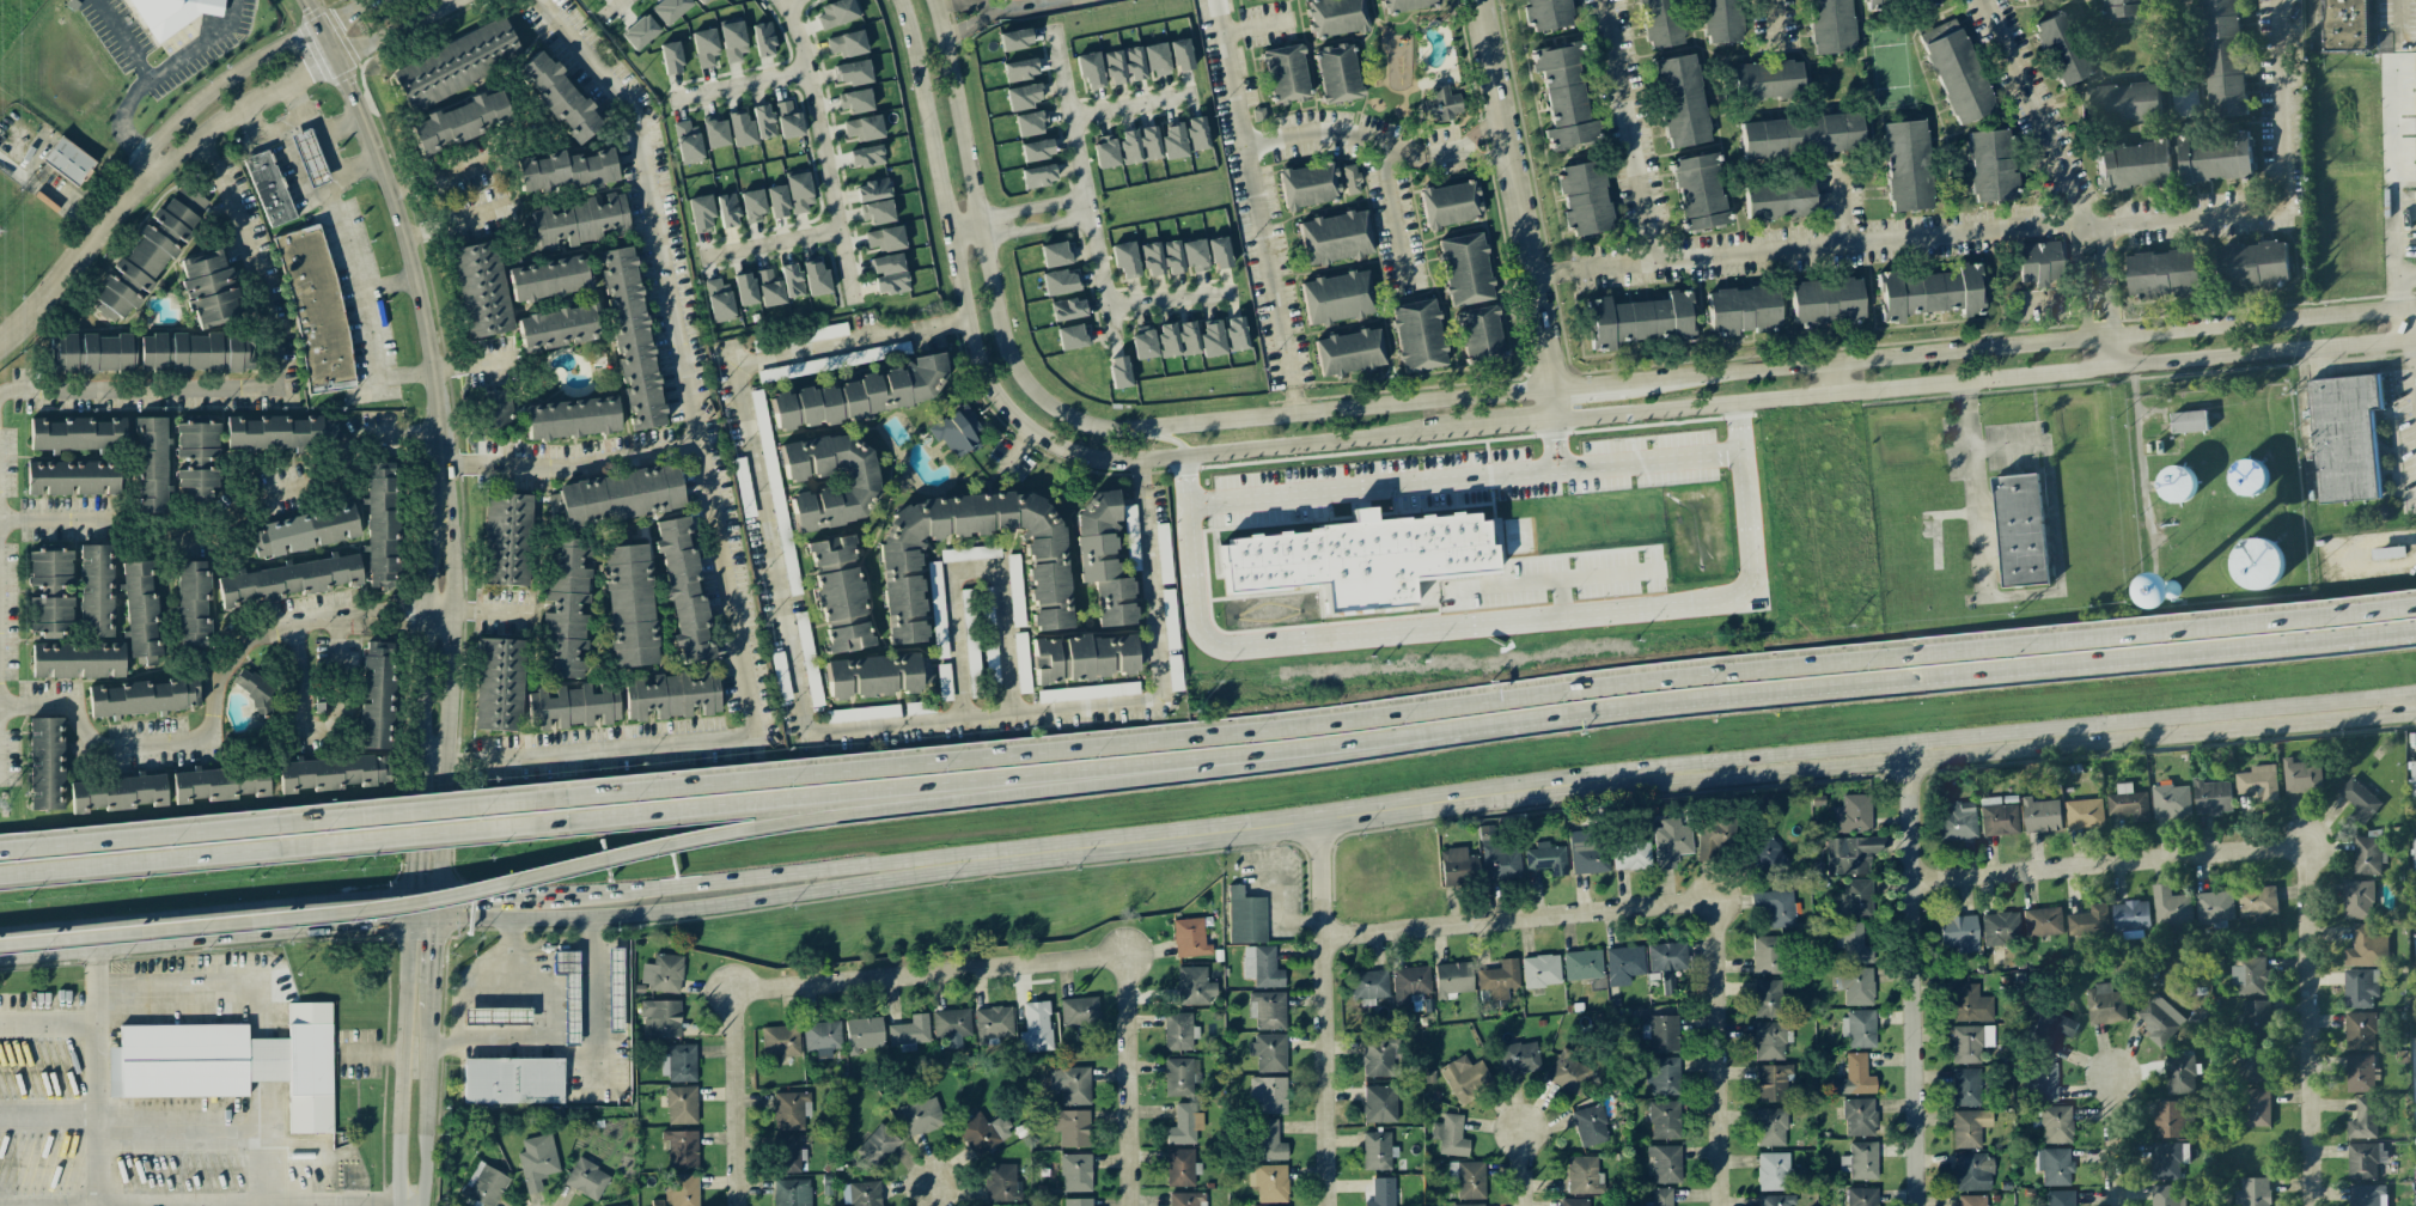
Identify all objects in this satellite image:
road: (972, 0)
building: (701, 1)
building: (1892, 1)
road: (789, 2)
road: (1027, 2)
building: (1405, 5)
road: (610, 7)
building: (2124, 8)
building: (670, 10)
road: (313, 12)
building: (837, 12)
road: (349, 13)
road: (1775, 13)
building: (171, 14)
building: (1546, 14)
building: (1335, 17)
building: (1721, 20)
road: (977, 23)
building: (1660, 23)
building: (2343, 25)
road: (2399, 25)
building: (1830, 26)
road: (396, 29)
road: (1255, 29)
building: (640, 32)
building: (762, 38)
road: (122, 39)
building: (733, 39)
building: (1014, 39)
road: (330, 42)
building: (847, 43)
building: (704, 47)
building: (2061, 49)
building: (1180, 55)
building: (670, 57)
building: (2223, 57)
building: (1157, 60)
building: (456, 63)
building: (1134, 63)
building: (1114, 67)
building: (1019, 69)
building: (1090, 69)
building: (1956, 71)
building: (853, 72)
building: (1336, 73)
road: (157, 74)
building: (1286, 74)
road: (303, 77)
building: (1767, 80)
road: (226, 83)
road: (736, 85)
building: (1023, 96)
building: (559, 97)
building: (1564, 97)
building: (855, 100)
building: (1680, 100)
building: (2119, 102)
building: (1441, 103)
road: (1131, 106)
road: (260, 120)
building: (788, 120)
building: (763, 121)
building: (459, 122)
building: (1031, 122)
road: (287, 124)
road: (2040, 126)
road: (346, 128)
building: (740, 128)
building: (864, 128)
road: (1637, 132)
building: (715, 133)
building: (1196, 133)
road: (1335, 135)
building: (1801, 135)
road: (197, 138)
building: (687, 141)
building: (1173, 141)
building: (1149, 142)
road: (206, 146)
building: (1129, 146)
road: (822, 147)
road: (1466, 147)
building: (1036, 150)
building: (1106, 152)
building: (866, 156)
building: (309, 157)
building: (2214, 157)
building: (68, 160)
road: (361, 160)
building: (2133, 164)
building: (1906, 165)
road: (153, 166)
building: (1990, 166)
building: (565, 170)
road: (298, 173)
road: (141, 175)
building: (1038, 176)
road: (440, 178)
building: (1350, 179)
road: (1081, 182)
building: (1307, 185)
building: (268, 188)
building: (872, 190)
building: (1698, 191)
building: (799, 193)
road: (1253, 194)
building: (1585, 197)
building: (1779, 199)
building: (777, 201)
building: (1450, 203)
building: (752, 206)
road: (1521, 207)
road: (1845, 208)
building: (727, 209)
building: (701, 212)
building: (877, 212)
road: (456, 218)
road: (1395, 218)
road: (336, 220)
building: (579, 220)
road: (2030, 230)
road: (950, 232)
building: (1335, 237)
building: (885, 238)
road: (770, 244)
building: (1219, 252)
road: (2403, 252)
building: (150, 254)
building: (1055, 254)
building: (1195, 255)
building: (1172, 257)
building: (1125, 258)
building: (1152, 258)
building: (2039, 262)
building: (2252, 264)
building: (1465, 269)
road: (72, 270)
building: (2162, 273)
building: (889, 274)
road: (1552, 276)
building: (815, 278)
building: (791, 280)
building: (1060, 282)
road: (393, 285)
road: (421, 287)
building: (208, 288)
building: (744, 288)
building: (769, 288)
building: (481, 290)
building: (1930, 292)
road: (2097, 296)
building: (1337, 297)
road: (1170, 299)
building: (719, 300)
building: (1825, 301)
building: (590, 304)
building: (315, 306)
building: (1068, 309)
building: (1743, 310)
building: (1639, 321)
building: (823, 333)
building: (1234, 333)
building: (1480, 333)
building: (1417, 335)
building: (1072, 336)
building: (630, 337)
building: (1178, 339)
building: (1212, 339)
road: (2409, 340)
building: (1143, 342)
building: (195, 352)
building: (1349, 352)
building: (91, 353)
road: (447, 370)
building: (1118, 372)
road: (1834, 378)
road: (1990, 378)
road: (255, 389)
road: (1517, 390)
road: (2414, 391)
building: (861, 394)
road: (1297, 400)
building: (495, 406)
building: (572, 419)
road: (1508, 420)
building: (2189, 421)
road: (1018, 422)
building: (956, 431)
building: (280, 432)
building: (77, 433)
road: (1236, 434)
building: (2345, 437)
road: (1552, 441)
road: (952, 443)
road: (2141, 451)
building: (196, 458)
road: (603, 462)
building: (152, 464)
road: (476, 467)
building: (73, 477)
road: (1463, 477)
building: (2249, 477)
building: (859, 482)
building: (2176, 483)
building: (743, 487)
road: (1972, 491)
building: (620, 495)
road: (709, 498)
building: (554, 505)
building: (380, 525)
road: (2051, 526)
building: (2020, 530)
road: (184, 532)
building: (304, 532)
building: (1131, 537)
building: (505, 538)
building: (785, 542)
building: (1432, 544)
building: (830, 552)
building: (970, 553)
building: (1163, 553)
building: (2388, 553)
road: (1519, 554)
road: (977, 560)
building: (1102, 560)
building: (2256, 564)
road: (451, 567)
building: (1298, 567)
building: (288, 580)
building: (902, 585)
building: (96, 590)
building: (683, 590)
building: (1014, 590)
building: (50, 591)
building: (840, 596)
road: (417, 602)
building: (193, 603)
road: (494, 604)
building: (563, 605)
building: (628, 605)
building: (936, 609)
building: (141, 615)
building: (1170, 619)
road: (1477, 626)
building: (847, 638)
road: (423, 645)
building: (1086, 657)
building: (78, 659)
building: (807, 659)
building: (780, 675)
building: (876, 675)
building: (944, 682)
road: (451, 683)
building: (498, 684)
building: (252, 686)
building: (1087, 692)
building: (671, 694)
building: (376, 695)
building: (144, 698)
road: (1456, 701)
road: (1732, 703)
building: (573, 706)
building: (861, 713)
road: (809, 718)
road: (209, 730)
road: (319, 730)
road: (1, 747)
railway: (1208, 754)
road: (444, 760)
road: (1695, 770)
building: (332, 773)
building: (2301, 776)
building: (2257, 782)
building: (219, 784)
building: (117, 792)
building: (2414, 793)
road: (938, 794)
building: (2211, 797)
building: (2359, 799)
road: (774, 800)
building: (2171, 800)
building: (2127, 803)
road: (432, 806)
building: (1854, 814)
building: (2084, 814)
building: (2040, 815)
building: (1997, 817)
building: (1958, 821)
road: (184, 829)
road: (440, 829)
road: (417, 830)
road: (435, 834)
building: (1714, 835)
building: (1671, 842)
building: (1631, 852)
building: (1586, 853)
building: (1853, 854)
building: (2366, 855)
building: (1499, 857)
road: (185, 858)
building: (1546, 858)
building: (1768, 859)
road: (2076, 865)
building: (1458, 866)
building: (2414, 869)
road: (757, 878)
road: (487, 896)
road: (423, 897)
traffic signals: (435, 897)
building: (1855, 899)
traffic signals: (413, 900)
building: (2357, 900)
building: (2256, 901)
road: (417, 904)
road: (707, 907)
building: (1776, 907)
building: (2170, 908)
building: (2213, 908)
road: (435, 909)
road: (411, 910)
building: (1245, 916)
building: (2130, 916)
road: (206, 918)
building: (2088, 920)
traffic signals: (435, 921)
road: (1485, 921)
building: (2042, 921)
traffic signals: (411, 922)
road: (396, 924)
building: (2000, 928)
building: (1959, 931)
building: (1190, 938)
building: (2415, 942)
building: (1854, 943)
road: (178, 944)
building: (2366, 948)
road: (507, 950)
building: (1767, 955)
building: (1667, 958)
road: (433, 962)
building: (1582, 964)
building: (1623, 964)
building: (1262, 967)
building: (1540, 970)
building: (663, 973)
road: (1915, 976)
road: (843, 979)
building: (1452, 979)
building: (1499, 979)
road: (500, 982)
building: (1410, 983)
road: (182, 985)
building: (1856, 985)
building: (1194, 986)
building: (1369, 986)
building: (2360, 987)
building: (568, 992)
building: (1768, 998)
road: (2312, 998)
building: (1969, 1003)
building: (2104, 1004)
building: (1267, 1010)
building: (1079, 1011)
road: (1323, 1012)
building: (660, 1018)
building: (2255, 1018)
road: (48, 1019)
building: (2159, 1019)
building: (951, 1024)
building: (994, 1024)
road: (1720, 1027)
building: (1036, 1028)
building: (1860, 1028)
building: (910, 1030)
building: (2359, 1030)
building: (1178, 1031)
building: (2051, 1031)
building: (1660, 1033)
building: (865, 1034)
building: (822, 1037)
building: (1770, 1040)
building: (780, 1041)
building: (1970, 1042)
road: (1130, 1048)
building: (1269, 1052)
road: (575, 1053)
road: (378, 1058)
building: (1378, 1058)
building: (1519, 1058)
building: (231, 1062)
building: (678, 1062)
building: (2251, 1062)
road: (96, 1066)
road: (402, 1066)
road: (428, 1067)
building: (1569, 1073)
building: (2359, 1073)
building: (1661, 1074)
building: (2179, 1074)
building: (1178, 1077)
building: (1854, 1077)
building: (1465, 1078)
building: (512, 1080)
building: (1773, 1082)
building: (2043, 1082)
building: (1074, 1085)
building: (1965, 1086)
building: (1270, 1095)
building: (1380, 1103)
building: (682, 1104)
building: (2256, 1107)
building: (789, 1110)
building: (921, 1116)
building: (1859, 1116)
road: (48, 1119)
road: (221, 1119)
building: (1664, 1119)
building: (2167, 1119)
building: (2365, 1119)
building: (2054, 1122)
building: (1184, 1123)
building: (1590, 1126)
building: (1070, 1127)
building: (1770, 1127)
building: (1969, 1127)
building: (982, 1133)
building: (1450, 1135)
building: (1269, 1141)
road: (2116, 1141)
building: (877, 1145)
building: (682, 1147)
building: (1377, 1150)
road: (736, 1152)
building: (787, 1153)
building: (2167, 1159)
building: (2363, 1159)
building: (537, 1161)
building: (1860, 1161)
building: (1665, 1163)
building: (2054, 1165)
road: (1523, 1169)
road: (428, 1170)
building: (1773, 1171)
building: (1972, 1171)
building: (1075, 1172)
building: (1584, 1175)
building: (1468, 1178)
building: (1000, 1182)
building: (1269, 1182)
building: (484, 1184)
building: (682, 1190)
building: (792, 1192)
building: (2252, 1192)
building: (861, 1193)
building: (1381, 1193)
road: (935, 1195)
building: (2167, 1195)
building: (2366, 1195)
building: (1862, 1196)
building: (1660, 1198)
building: (2061, 1198)
building: (1185, 1199)
building: (1776, 1200)
building: (1972, 1200)
building: (1078, 1201)
building: (1574, 1202)
building: (1470, 1205)

